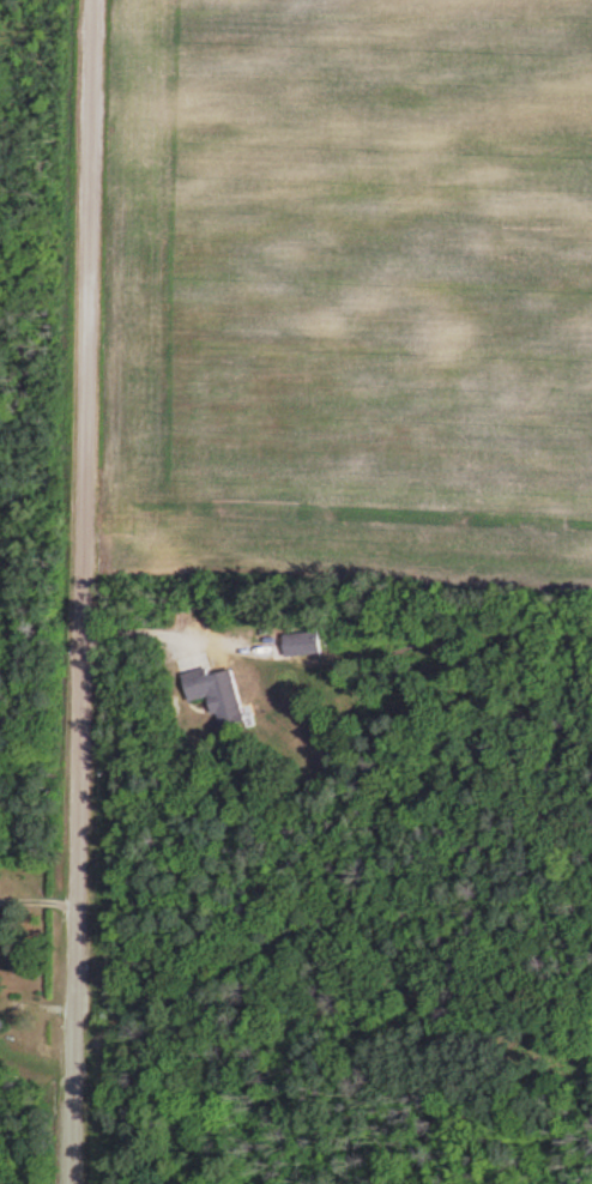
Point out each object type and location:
road: (77, 592)
building: (296, 641)
building: (211, 693)

